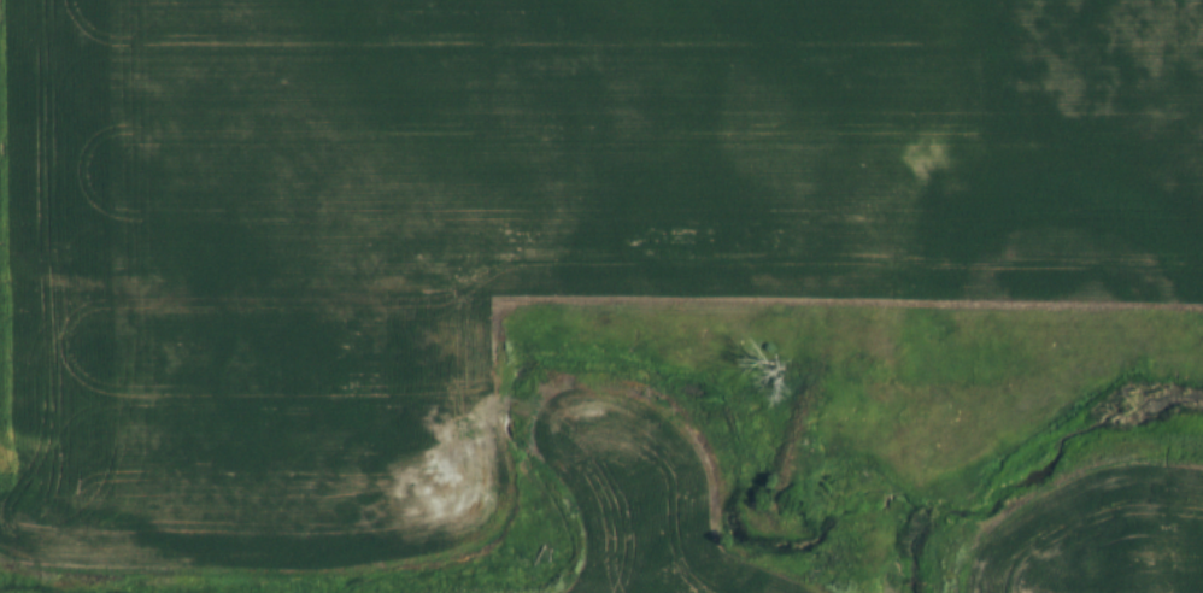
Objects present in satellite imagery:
crop: (605, 152)

